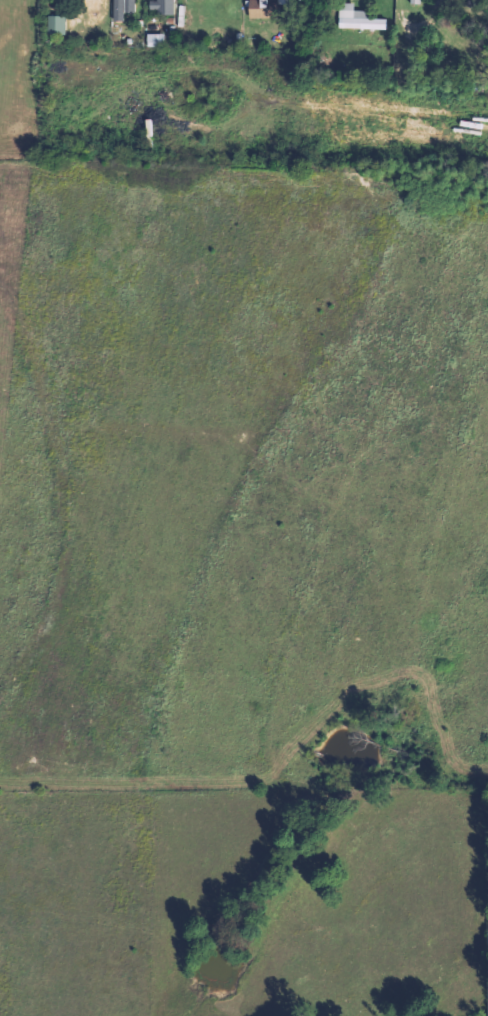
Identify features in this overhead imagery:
building: (416, 2)
building: (161, 6)
building: (122, 8)
building: (261, 10)
building: (358, 18)
building: (57, 25)
building: (155, 39)

